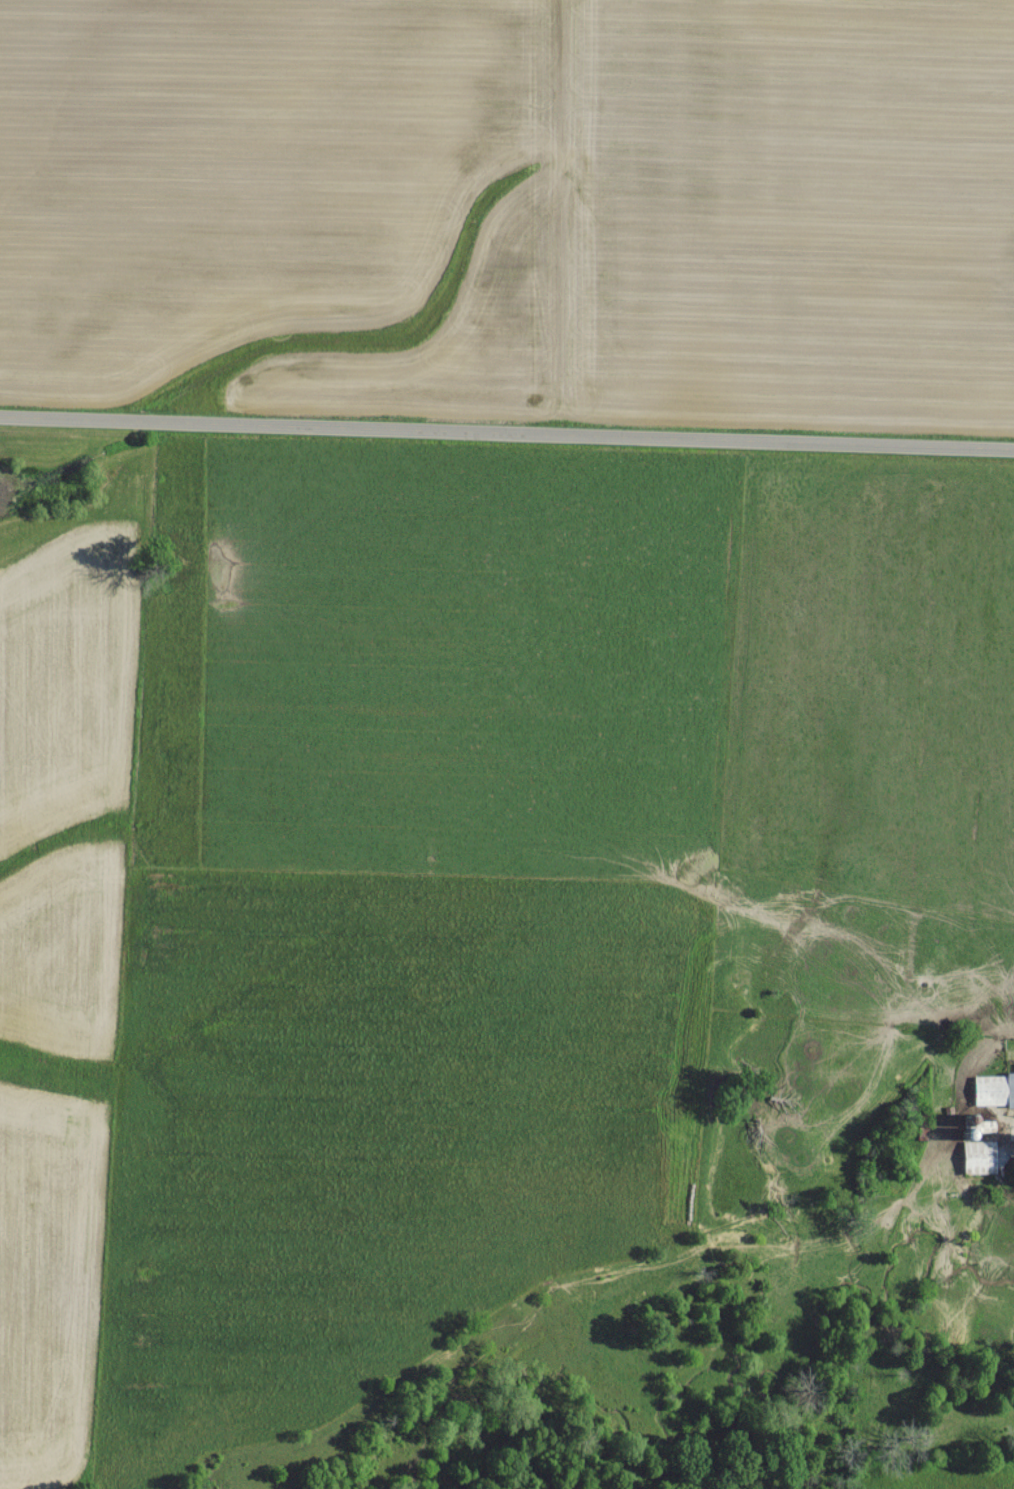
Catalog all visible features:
road: (507, 433)
building: (994, 1088)
building: (979, 1155)

